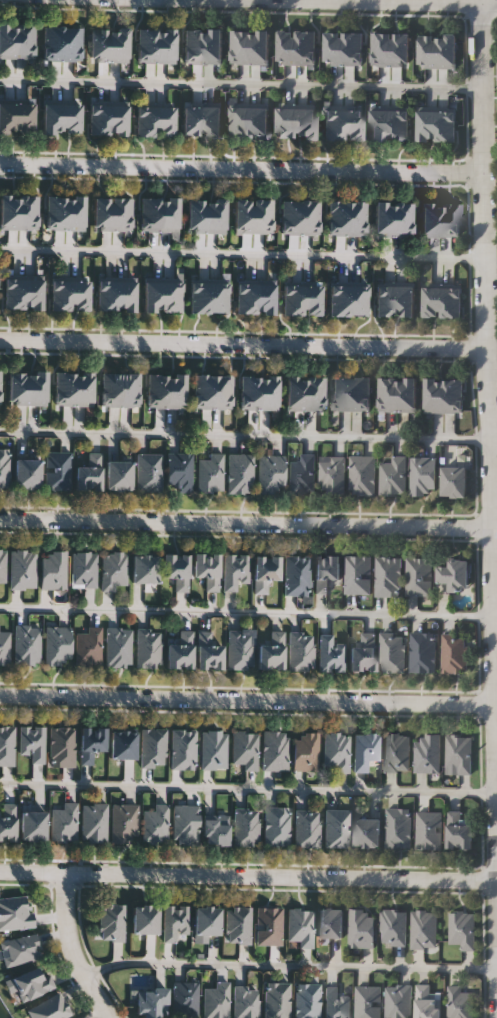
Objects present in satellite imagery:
road: (389, 1)
building: (7, 40)
building: (24, 40)
building: (52, 43)
building: (71, 43)
building: (100, 44)
building: (118, 44)
building: (147, 44)
building: (166, 44)
building: (193, 46)
building: (213, 46)
building: (240, 47)
building: (259, 47)
building: (287, 47)
building: (306, 47)
building: (334, 48)
building: (353, 48)
building: (381, 49)
building: (400, 49)
building: (428, 51)
building: (447, 51)
road: (240, 82)
building: (7, 116)
building: (24, 116)
building: (51, 117)
building: (71, 117)
building: (99, 118)
building: (118, 118)
building: (146, 120)
building: (165, 120)
building: (192, 121)
building: (211, 121)
building: (239, 122)
building: (259, 122)
building: (287, 123)
building: (306, 123)
building: (333, 123)
building: (353, 123)
building: (380, 124)
building: (399, 124)
building: (427, 126)
building: (446, 126)
road: (242, 168)
building: (9, 211)
building: (28, 211)
building: (55, 212)
building: (75, 212)
building: (103, 213)
building: (121, 213)
building: (150, 214)
building: (169, 214)
building: (197, 215)
building: (216, 215)
building: (243, 215)
building: (262, 215)
building: (290, 217)
building: (309, 217)
building: (337, 217)
building: (356, 217)
building: (384, 219)
building: (403, 219)
building: (430, 219)
building: (449, 219)
road: (243, 251)
building: (14, 293)
building: (33, 293)
building: (60, 294)
building: (79, 294)
building: (106, 295)
building: (126, 295)
building: (153, 295)
building: (172, 295)
building: (199, 297)
building: (218, 297)
building: (246, 297)
building: (265, 297)
building: (339, 299)
building: (357, 299)
building: (292, 300)
building: (311, 300)
building: (385, 300)
building: (404, 300)
building: (432, 302)
building: (451, 302)
road: (243, 343)
building: (1, 388)
building: (18, 388)
building: (37, 388)
building: (64, 388)
building: (83, 388)
building: (110, 390)
building: (129, 390)
building: (156, 391)
building: (175, 391)
building: (202, 392)
building: (222, 392)
building: (249, 392)
building: (268, 392)
building: (295, 393)
building: (314, 393)
building: (341, 394)
building: (361, 394)
building: (388, 395)
building: (407, 395)
building: (434, 396)
building: (453, 396)
road: (248, 435)
road: (489, 440)
building: (4, 467)
building: (57, 470)
building: (179, 471)
building: (89, 472)
building: (149, 472)
building: (27, 473)
building: (210, 473)
building: (239, 473)
building: (270, 474)
building: (119, 475)
building: (301, 475)
building: (331, 475)
building: (362, 475)
building: (393, 476)
building: (422, 476)
building: (455, 482)
road: (245, 522)
building: (2, 566)
building: (145, 568)
building: (23, 569)
building: (83, 569)
building: (53, 570)
building: (114, 570)
building: (176, 570)
building: (207, 570)
building: (234, 571)
building: (265, 572)
building: (326, 572)
building: (357, 575)
building: (455, 575)
building: (296, 576)
building: (418, 577)
building: (387, 578)
road: (246, 611)
building: (26, 644)
building: (57, 645)
building: (4, 647)
building: (88, 647)
building: (118, 647)
building: (148, 648)
building: (210, 650)
building: (180, 651)
building: (240, 651)
building: (272, 652)
building: (300, 652)
building: (363, 654)
building: (391, 654)
building: (422, 654)
building: (330, 655)
building: (454, 655)
road: (247, 698)
building: (32, 743)
building: (91, 743)
building: (123, 745)
building: (7, 746)
building: (62, 747)
building: (153, 748)
building: (183, 749)
building: (213, 750)
building: (245, 750)
building: (274, 751)
building: (336, 751)
building: (365, 751)
building: (305, 752)
building: (396, 753)
building: (427, 754)
building: (458, 754)
road: (247, 788)
building: (7, 822)
building: (63, 823)
building: (93, 823)
building: (124, 824)
building: (156, 824)
building: (185, 824)
building: (33, 826)
building: (276, 827)
building: (245, 828)
building: (397, 828)
building: (307, 829)
building: (337, 829)
building: (216, 830)
building: (428, 831)
building: (459, 831)
building: (368, 833)
road: (248, 873)
building: (15, 913)
building: (145, 920)
building: (207, 921)
building: (174, 922)
building: (111, 923)
building: (331, 923)
building: (238, 925)
building: (268, 926)
building: (300, 927)
building: (394, 928)
building: (361, 929)
building: (423, 930)
building: (461, 930)
road: (70, 948)
building: (19, 950)
road: (291, 964)
building: (32, 984)
building: (185, 1000)
building: (276, 1000)
building: (306, 1000)
building: (215, 1001)
building: (245, 1001)
building: (398, 1001)
building: (367, 1002)
building: (427, 1002)
building: (460, 1002)
building: (151, 1003)
building: (336, 1003)
building: (50, 1008)

